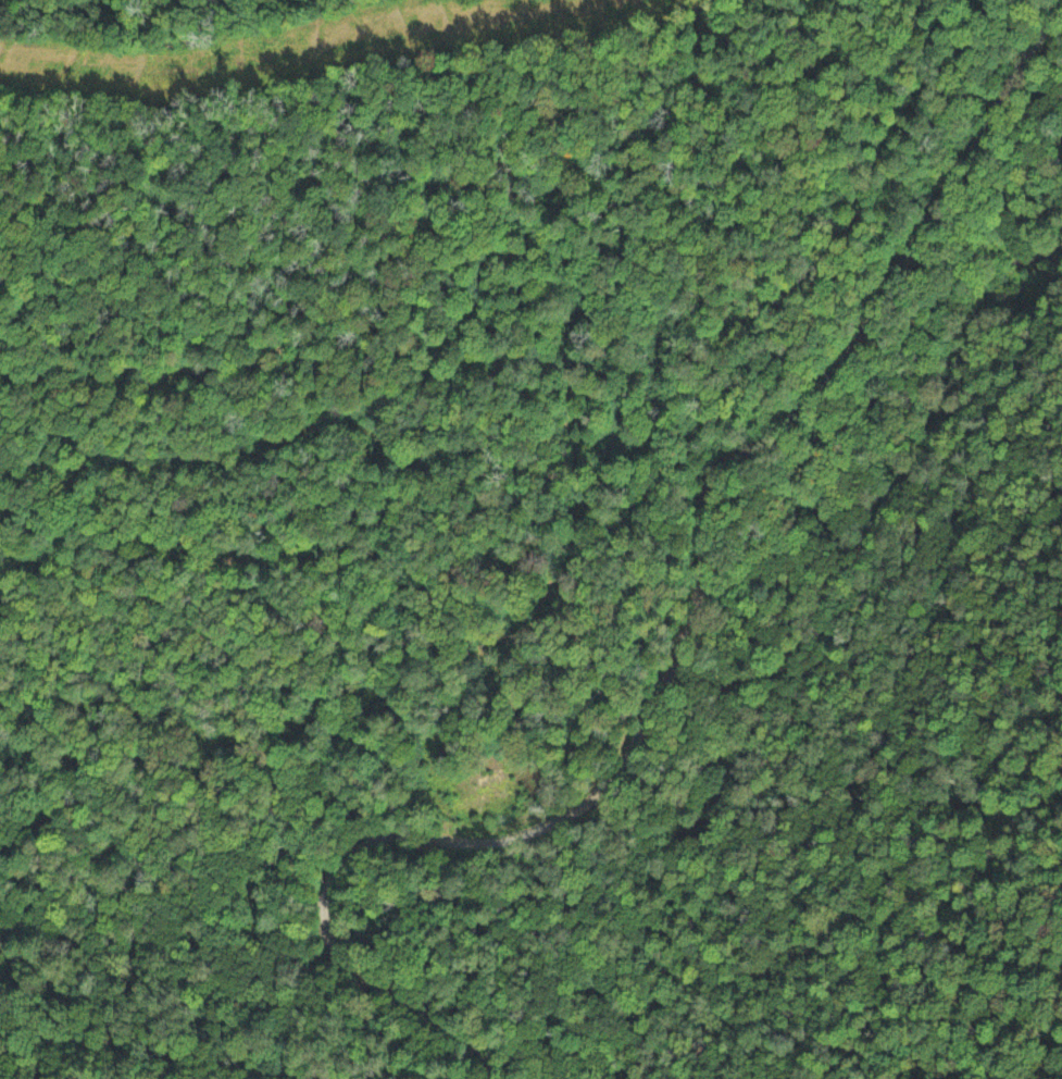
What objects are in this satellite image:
road: (688, 644)
road: (167, 1056)

